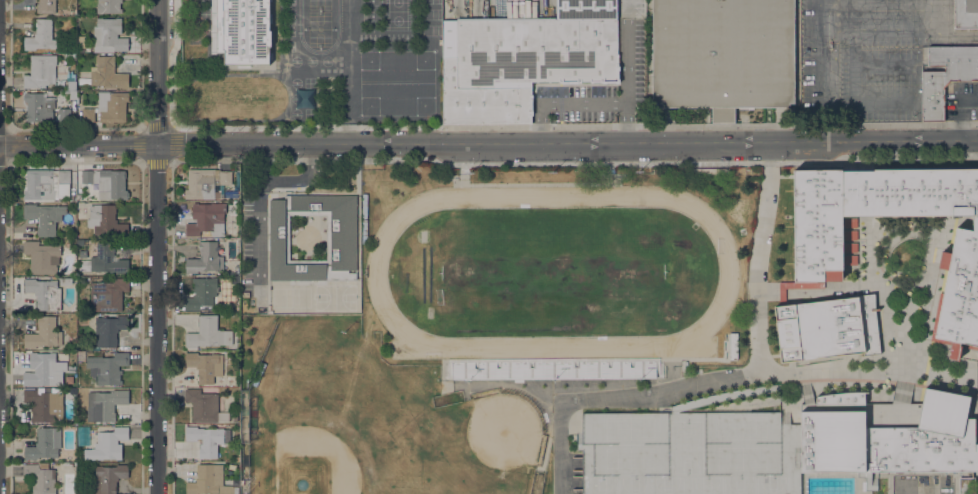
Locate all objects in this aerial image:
building: (46, 6)
building: (109, 6)
building: (966, 14)
building: (243, 31)
building: (109, 35)
building: (41, 36)
building: (82, 45)
building: (722, 54)
building: (69, 57)
building: (524, 59)
building: (40, 71)
building: (108, 74)
building: (945, 76)
building: (71, 85)
road: (581, 102)
building: (112, 106)
building: (39, 107)
road: (964, 113)
building: (64, 114)
building: (88, 115)
road: (488, 145)
road: (300, 178)
building: (48, 183)
building: (107, 183)
building: (206, 183)
road: (260, 212)
building: (44, 217)
building: (206, 218)
building: (105, 220)
park: (909, 220)
parking lot: (253, 236)
building: (341, 237)
road: (157, 247)
road: (933, 248)
building: (122, 252)
building: (82, 254)
park: (906, 254)
building: (42, 257)
road: (759, 257)
building: (205, 258)
building: (108, 259)
building: (817, 266)
track: (552, 272)
stadium: (558, 274)
park: (849, 274)
road: (860, 288)
building: (46, 292)
building: (108, 294)
building: (202, 295)
road: (904, 323)
building: (108, 330)
building: (44, 334)
building: (207, 334)
building: (205, 366)
building: (108, 367)
building: (554, 368)
road: (670, 368)
road: (869, 369)
building: (44, 370)
road: (617, 399)
building: (44, 404)
building: (105, 404)
building: (202, 405)
building: (205, 440)
building: (44, 444)
building: (107, 445)
building: (774, 445)
building: (108, 478)
building: (39, 479)
building: (967, 479)
building: (209, 481)
building: (967, 488)

